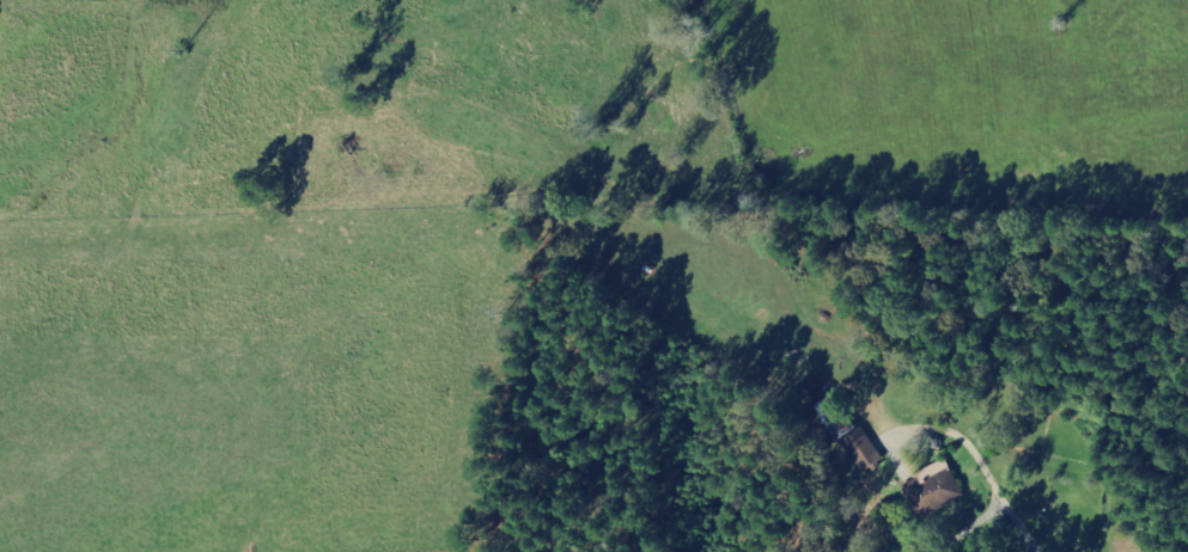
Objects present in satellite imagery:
building: (867, 450)
building: (940, 486)

